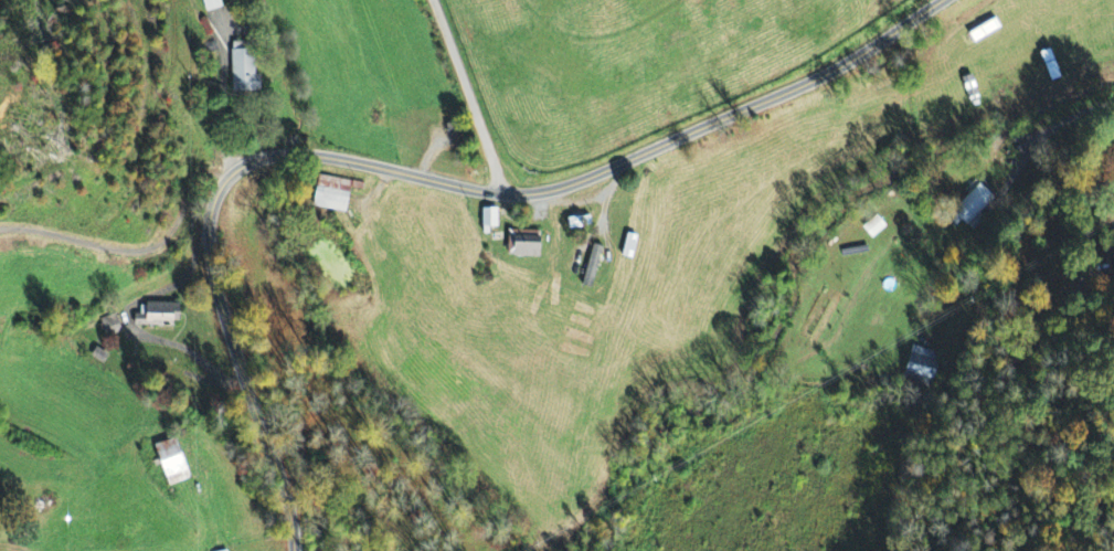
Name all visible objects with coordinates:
building: (213, 4)
building: (245, 68)
road: (469, 96)
road: (409, 173)
building: (974, 205)
building: (494, 219)
building: (870, 227)
building: (528, 244)
road: (148, 245)
building: (1111, 251)
building: (161, 315)
building: (112, 326)
building: (923, 363)
building: (176, 463)

